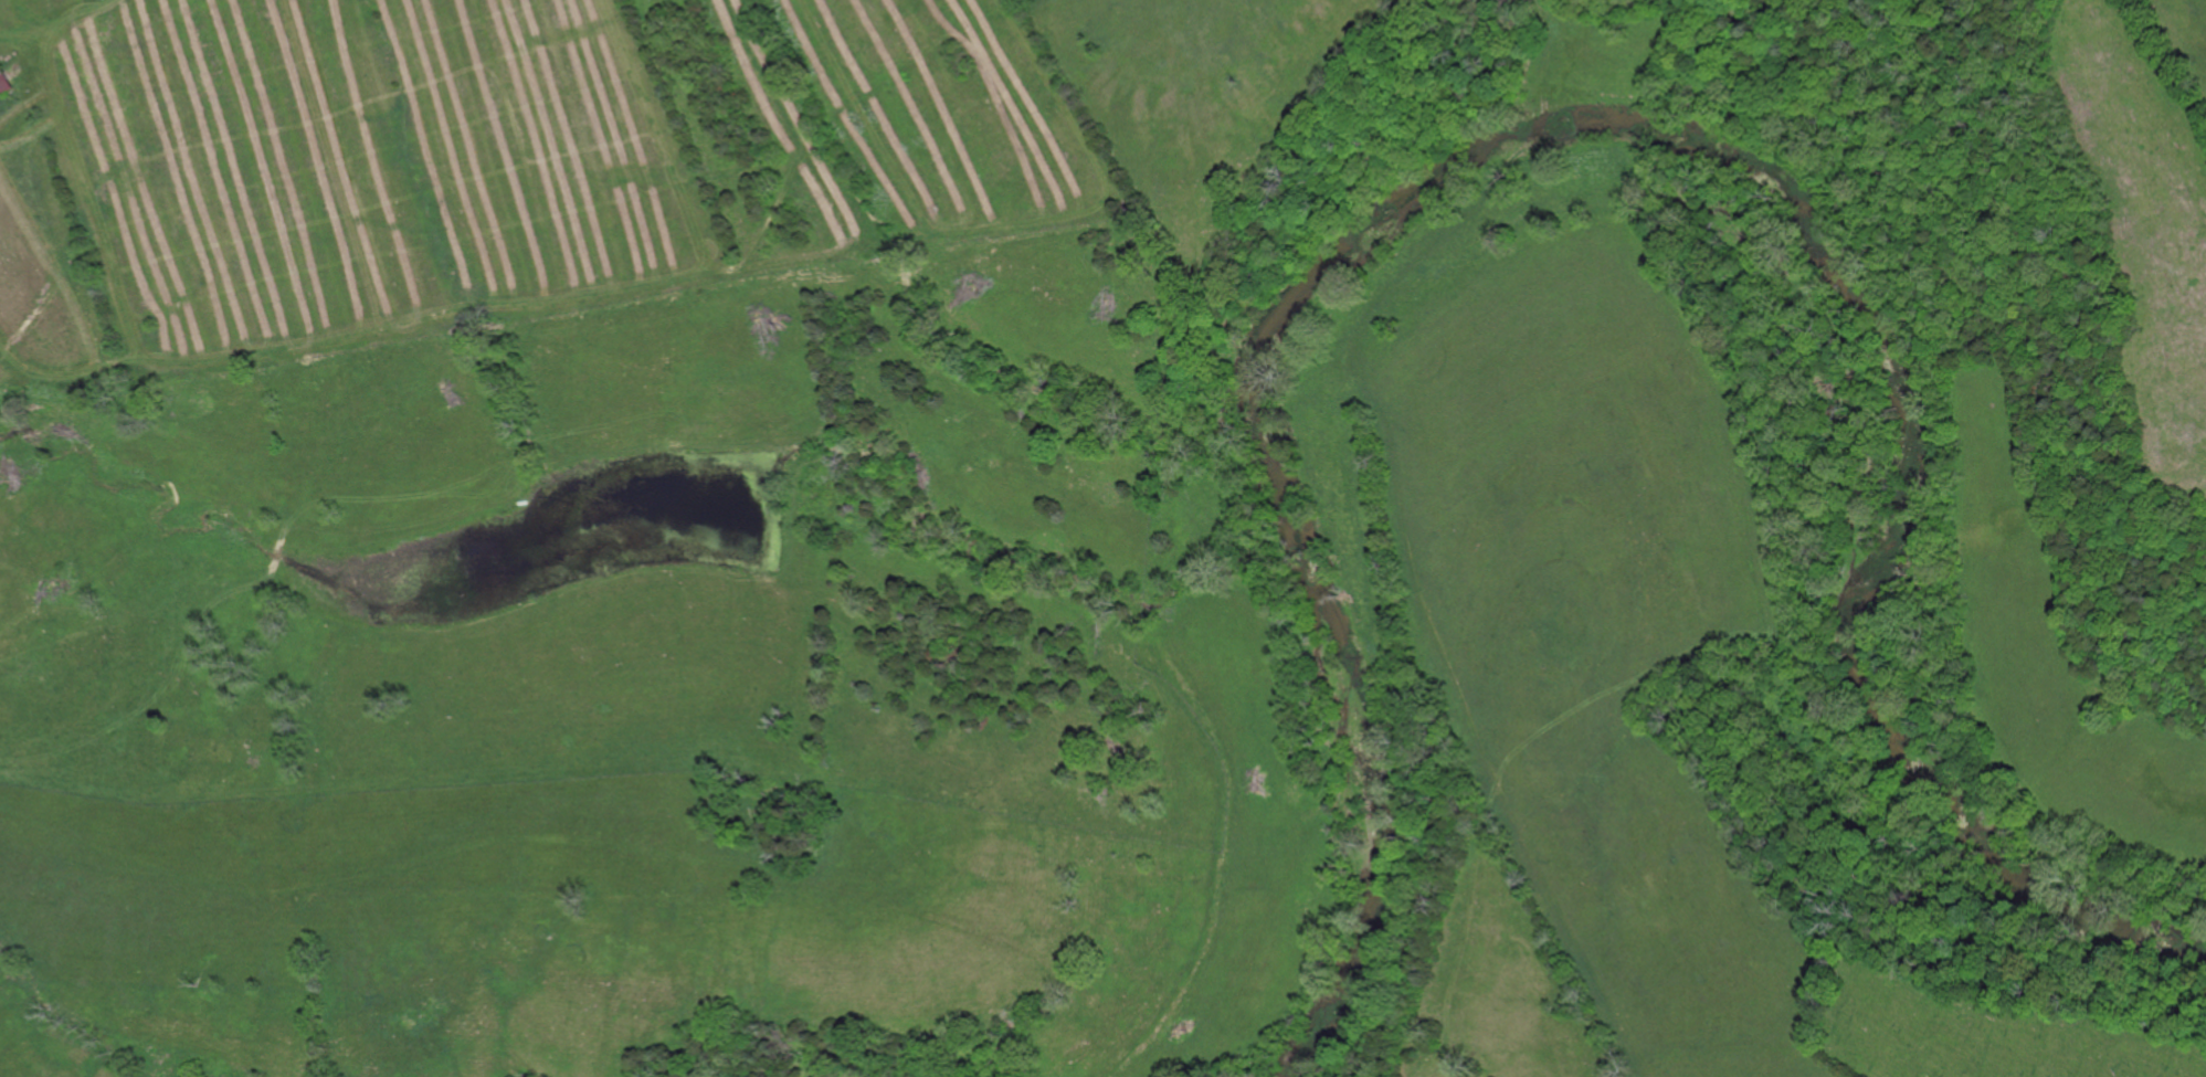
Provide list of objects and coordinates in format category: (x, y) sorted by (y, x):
building: (3, 84)

